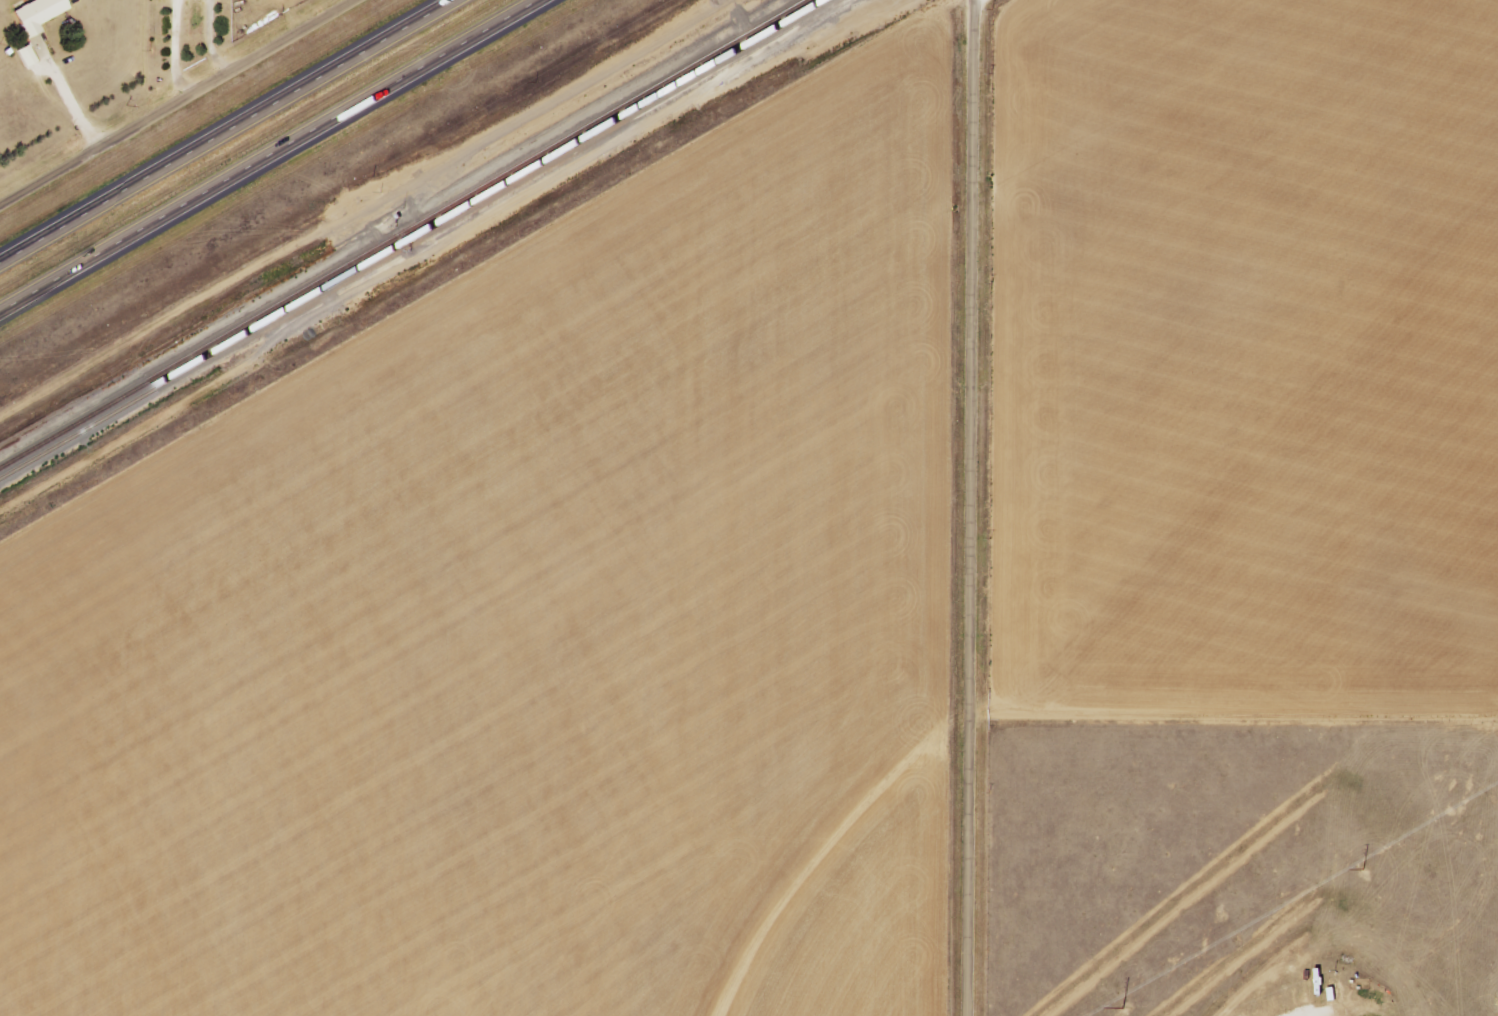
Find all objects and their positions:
building: (41, 14)
road: (177, 104)
road: (229, 131)
road: (274, 157)
railway: (404, 234)
railway: (412, 237)
road: (970, 507)
power tower: (1491, 798)
power tower: (1236, 943)

